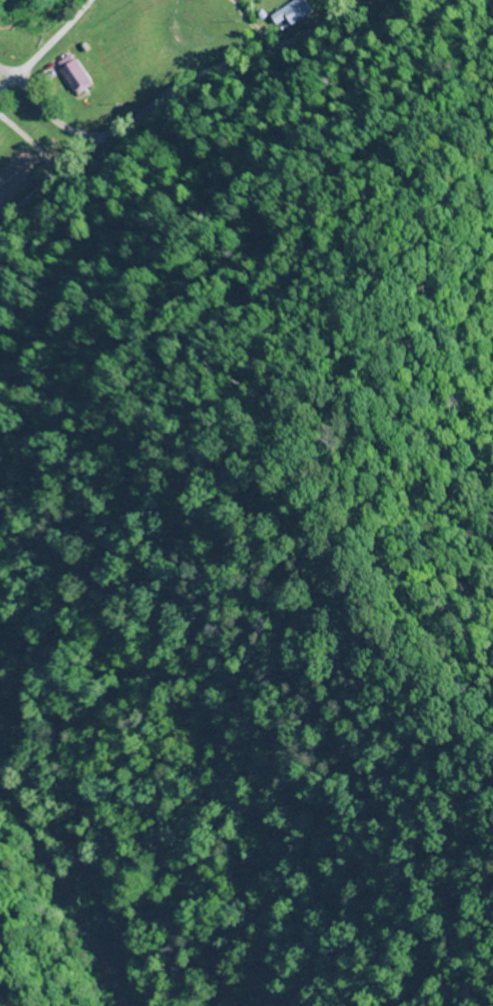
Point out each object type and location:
building: (295, 12)
building: (79, 72)
road: (163, 95)

